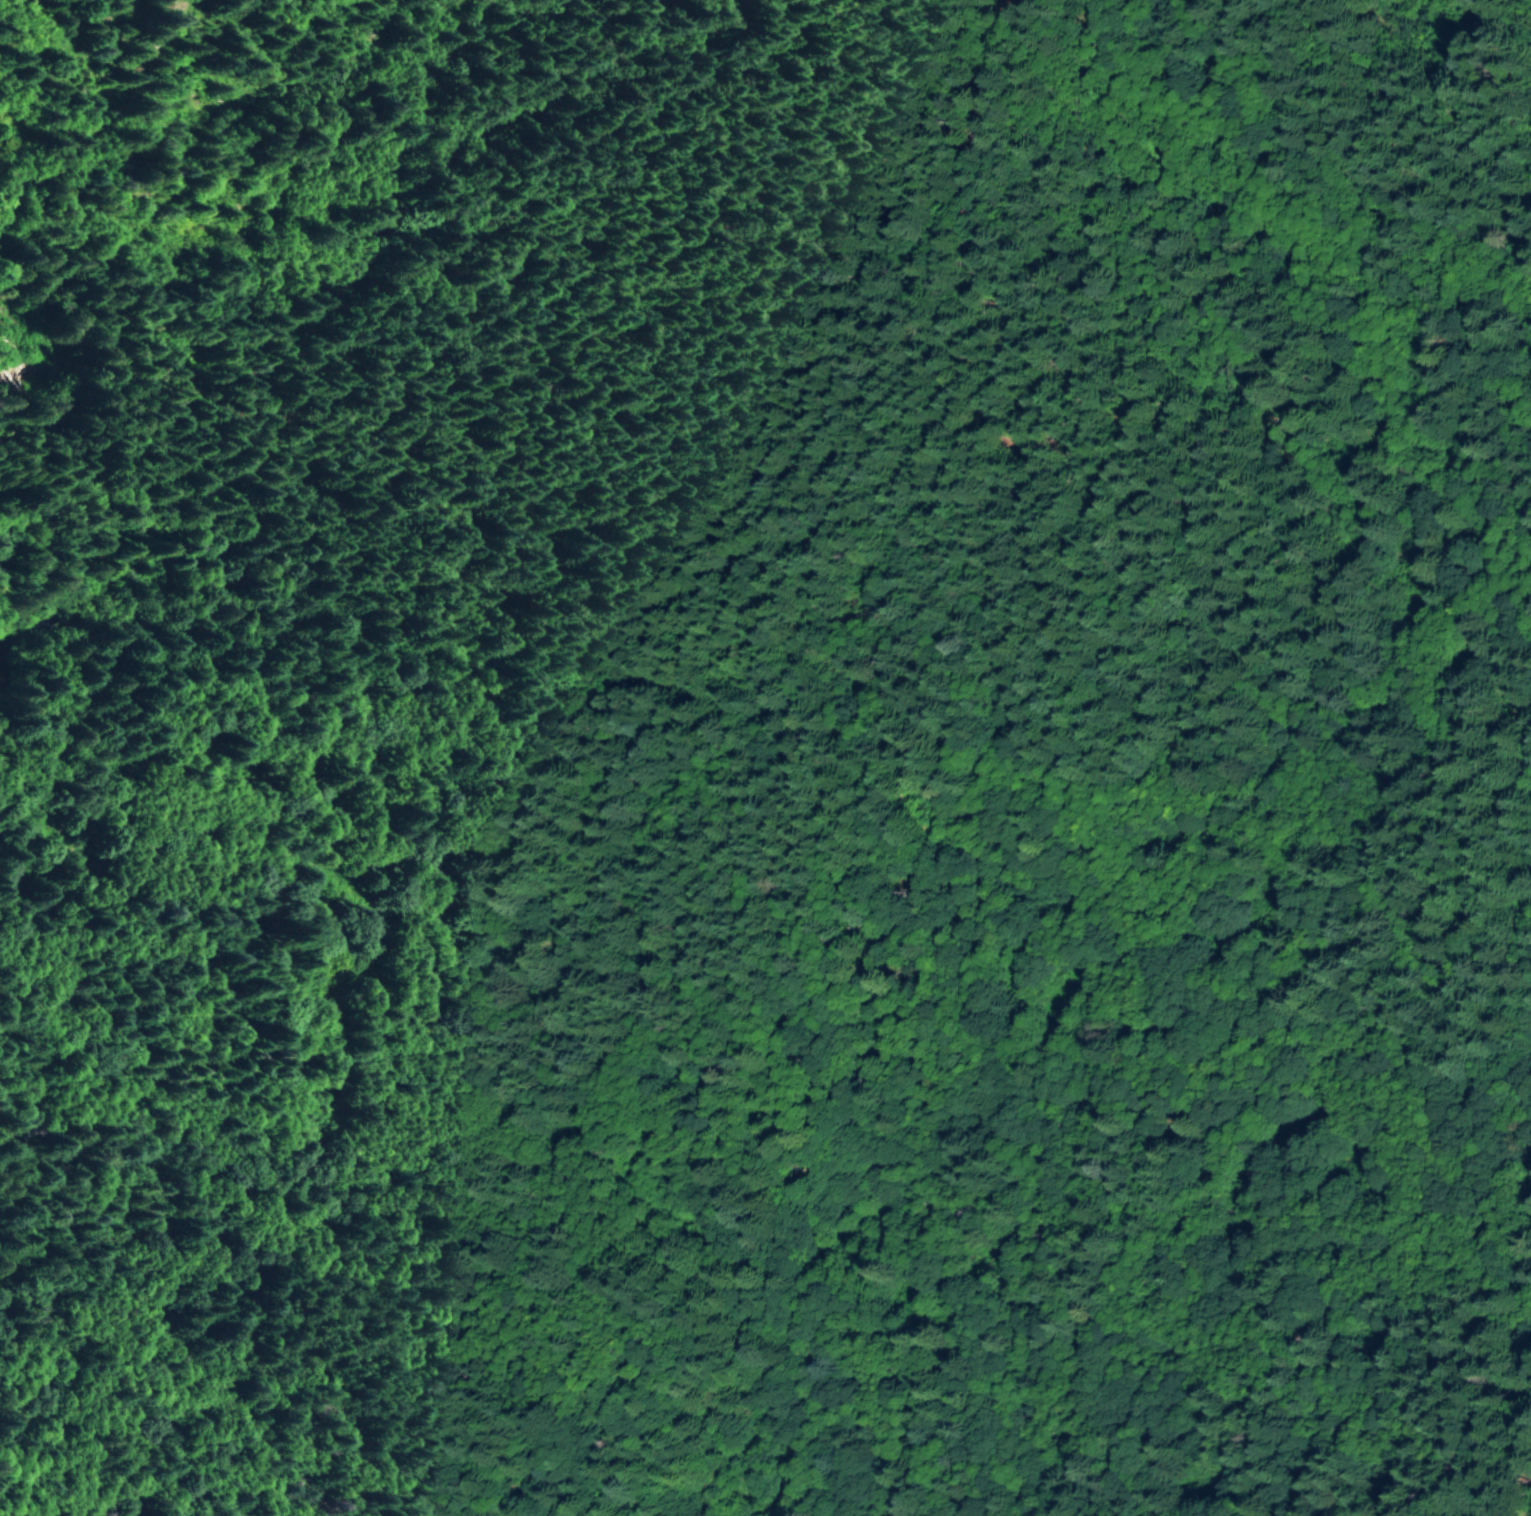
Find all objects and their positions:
road: (1473, 12)

